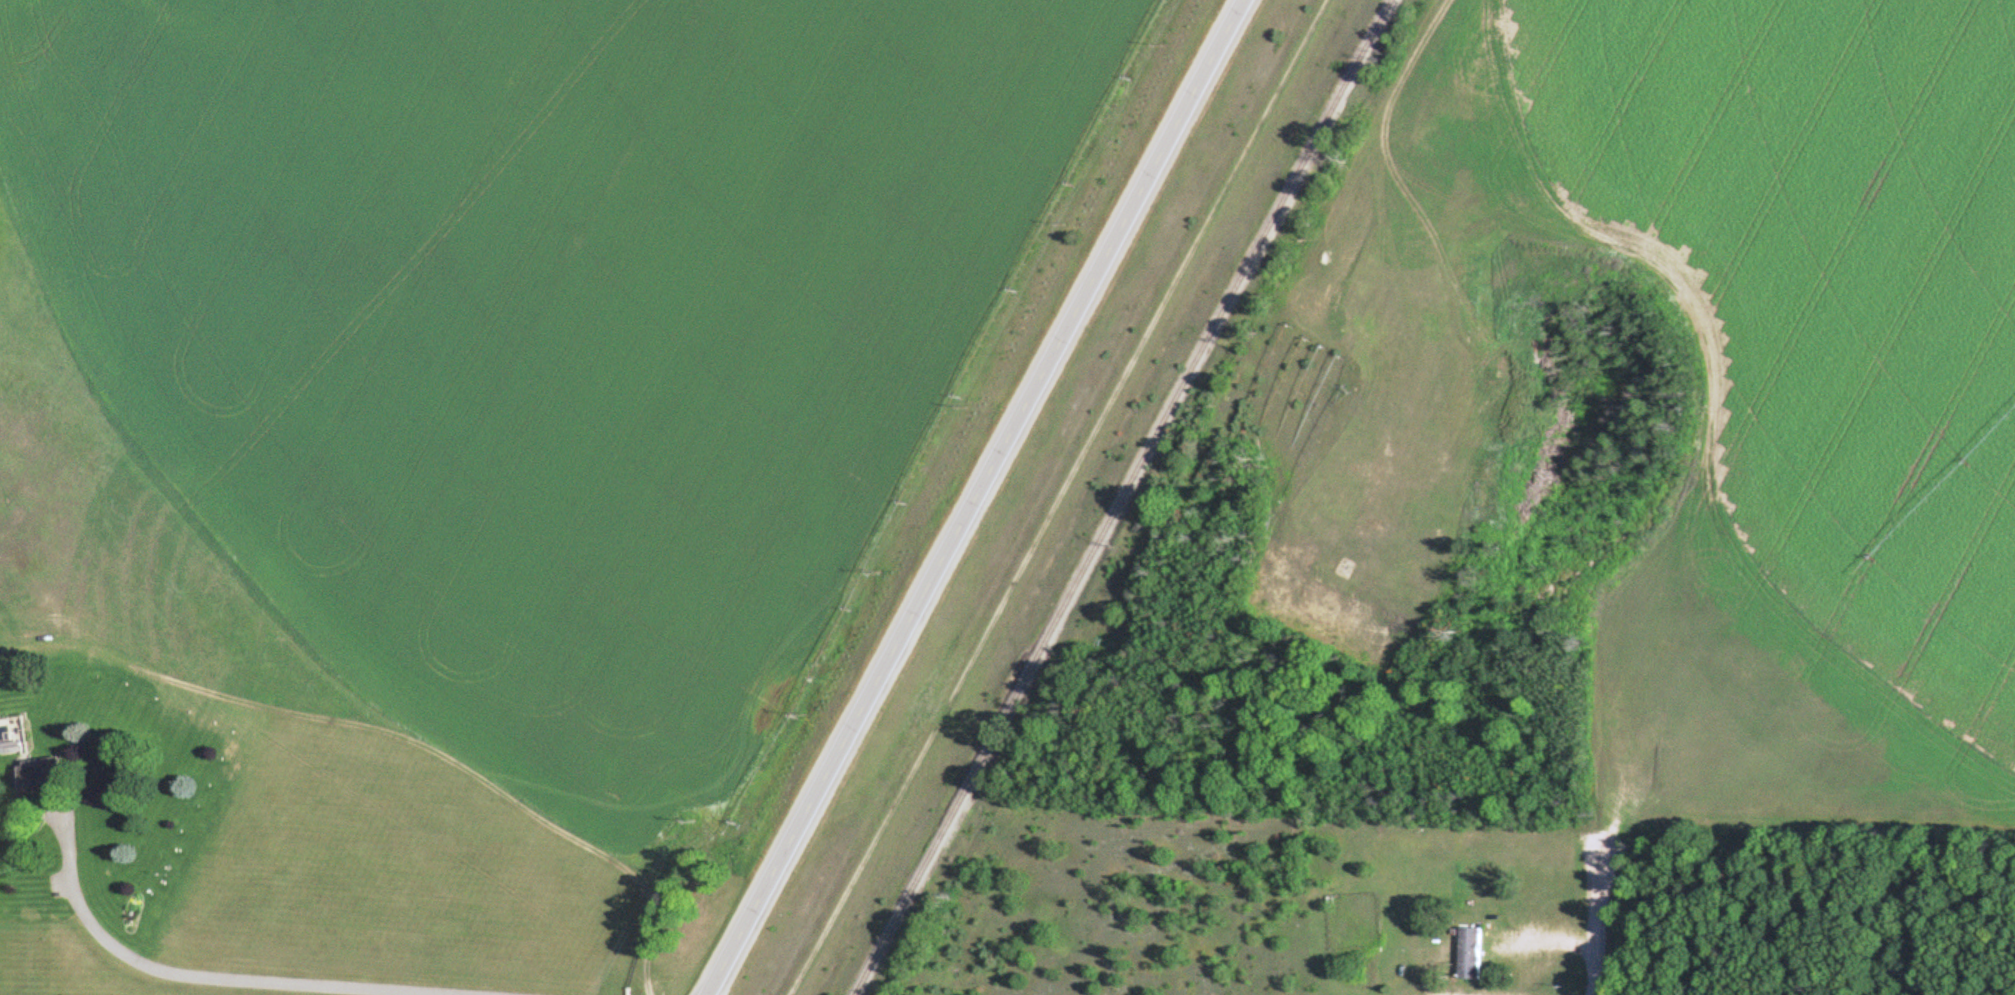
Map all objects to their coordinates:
road: (1357, 168)
road: (972, 497)
road: (1055, 497)
railway: (1120, 497)
building: (8, 747)
building: (36, 781)
road: (1598, 915)
building: (1467, 953)
road: (186, 975)
road: (1432, 993)

